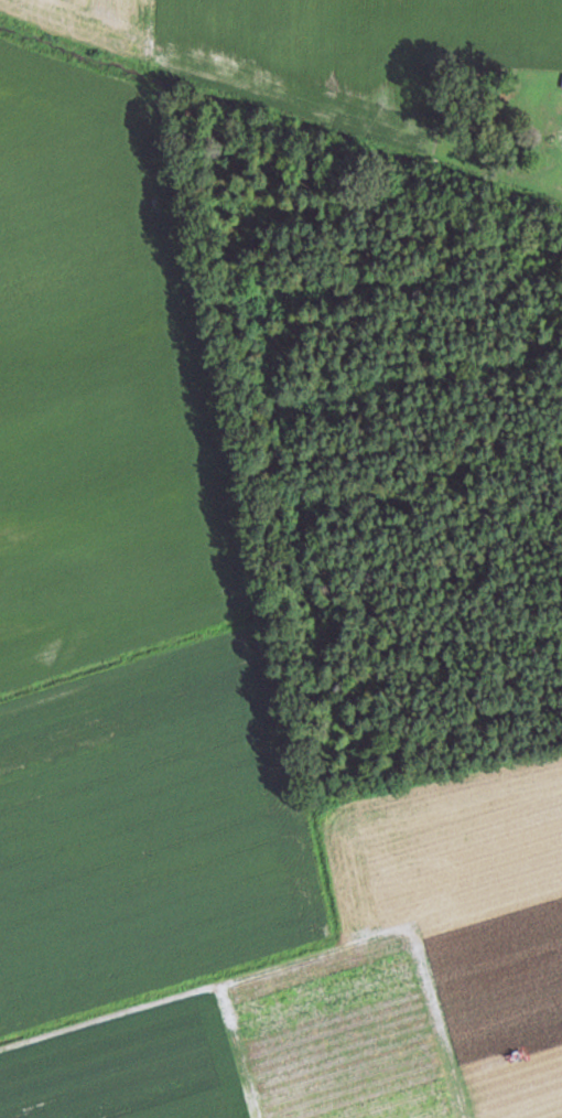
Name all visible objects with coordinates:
road: (519, 1105)

